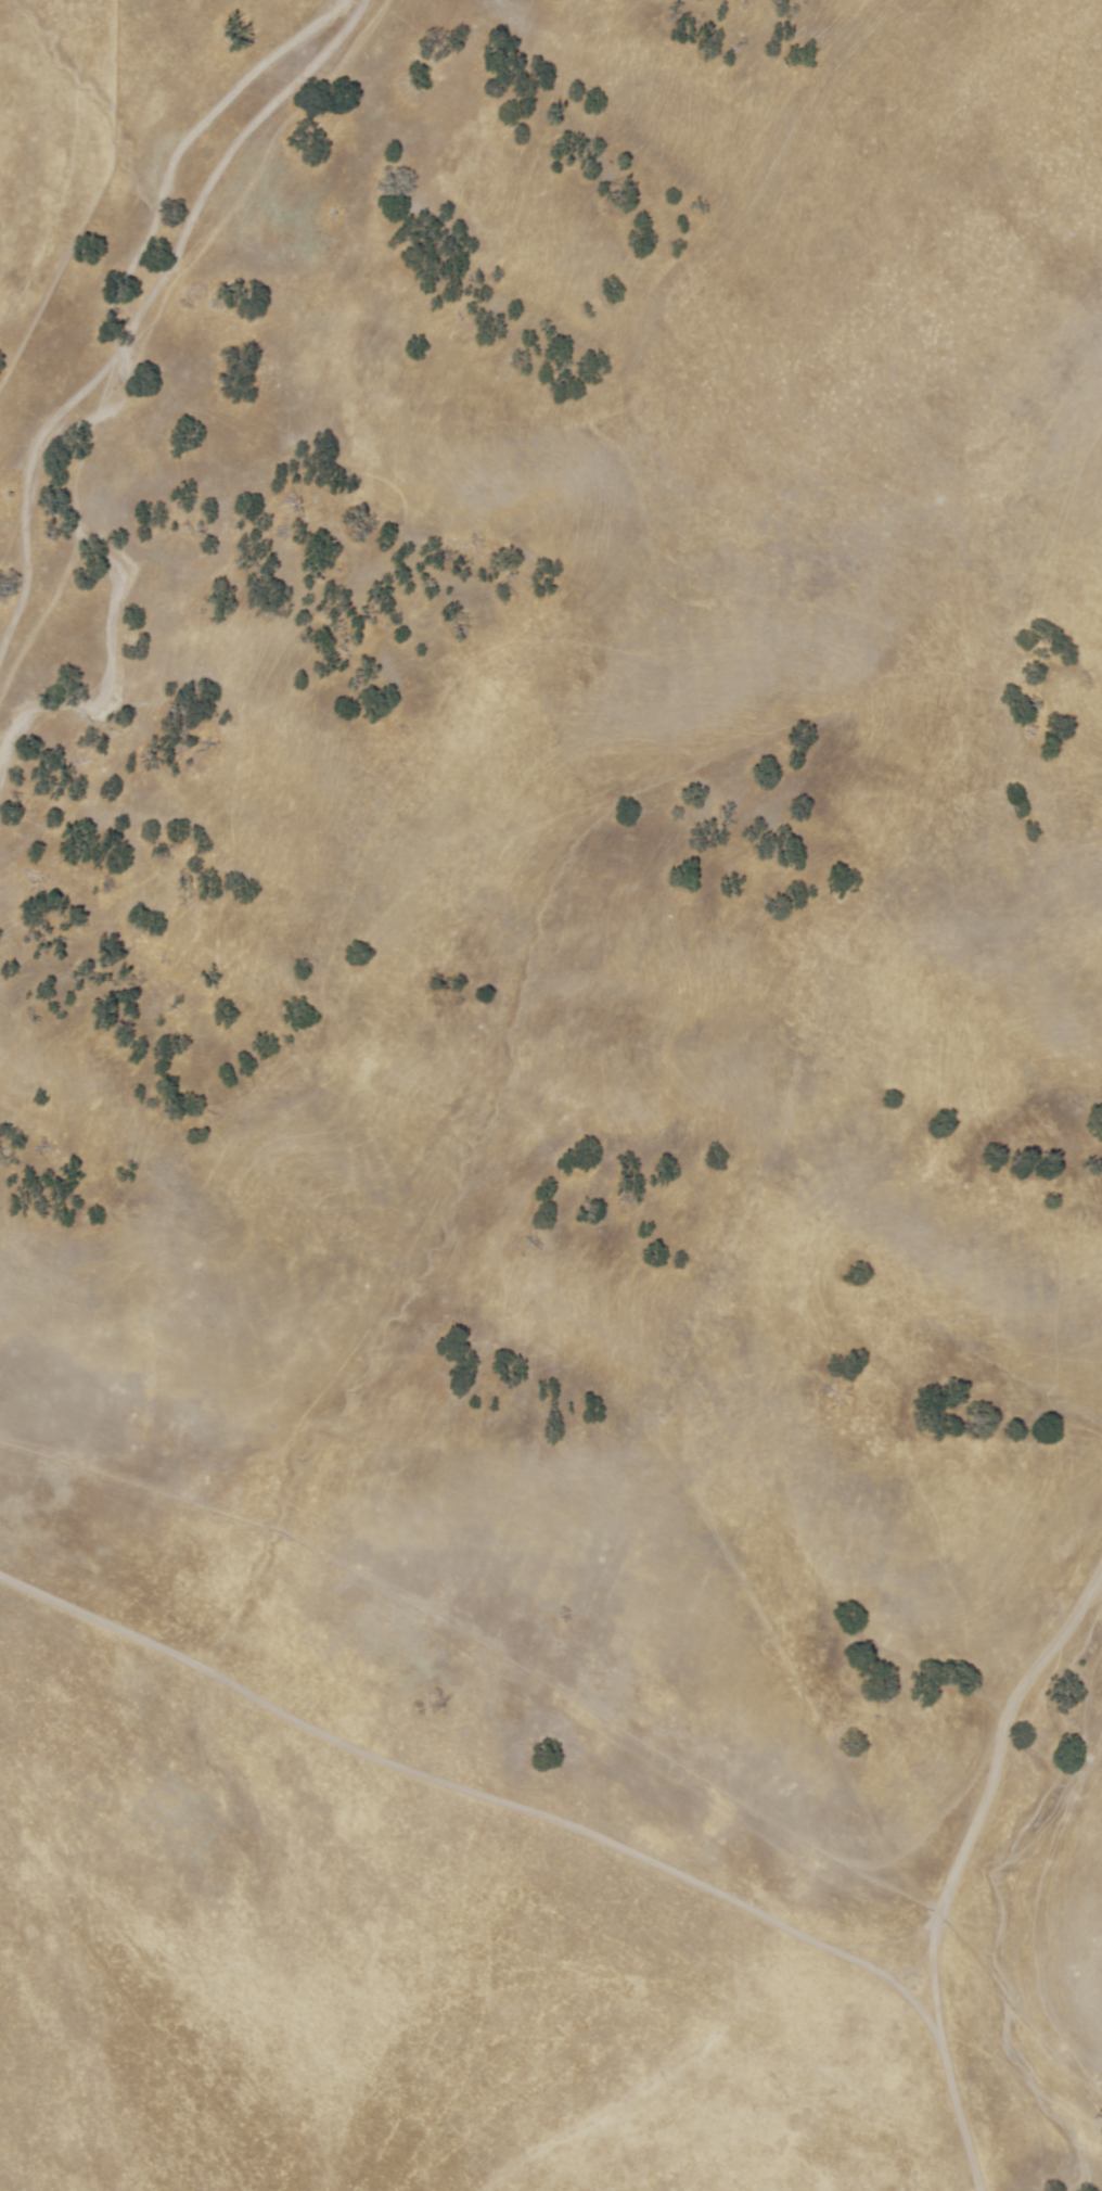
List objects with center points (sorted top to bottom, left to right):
road: (152, 281)
road: (534, 1642)
road: (491, 1840)
road: (958, 1858)

